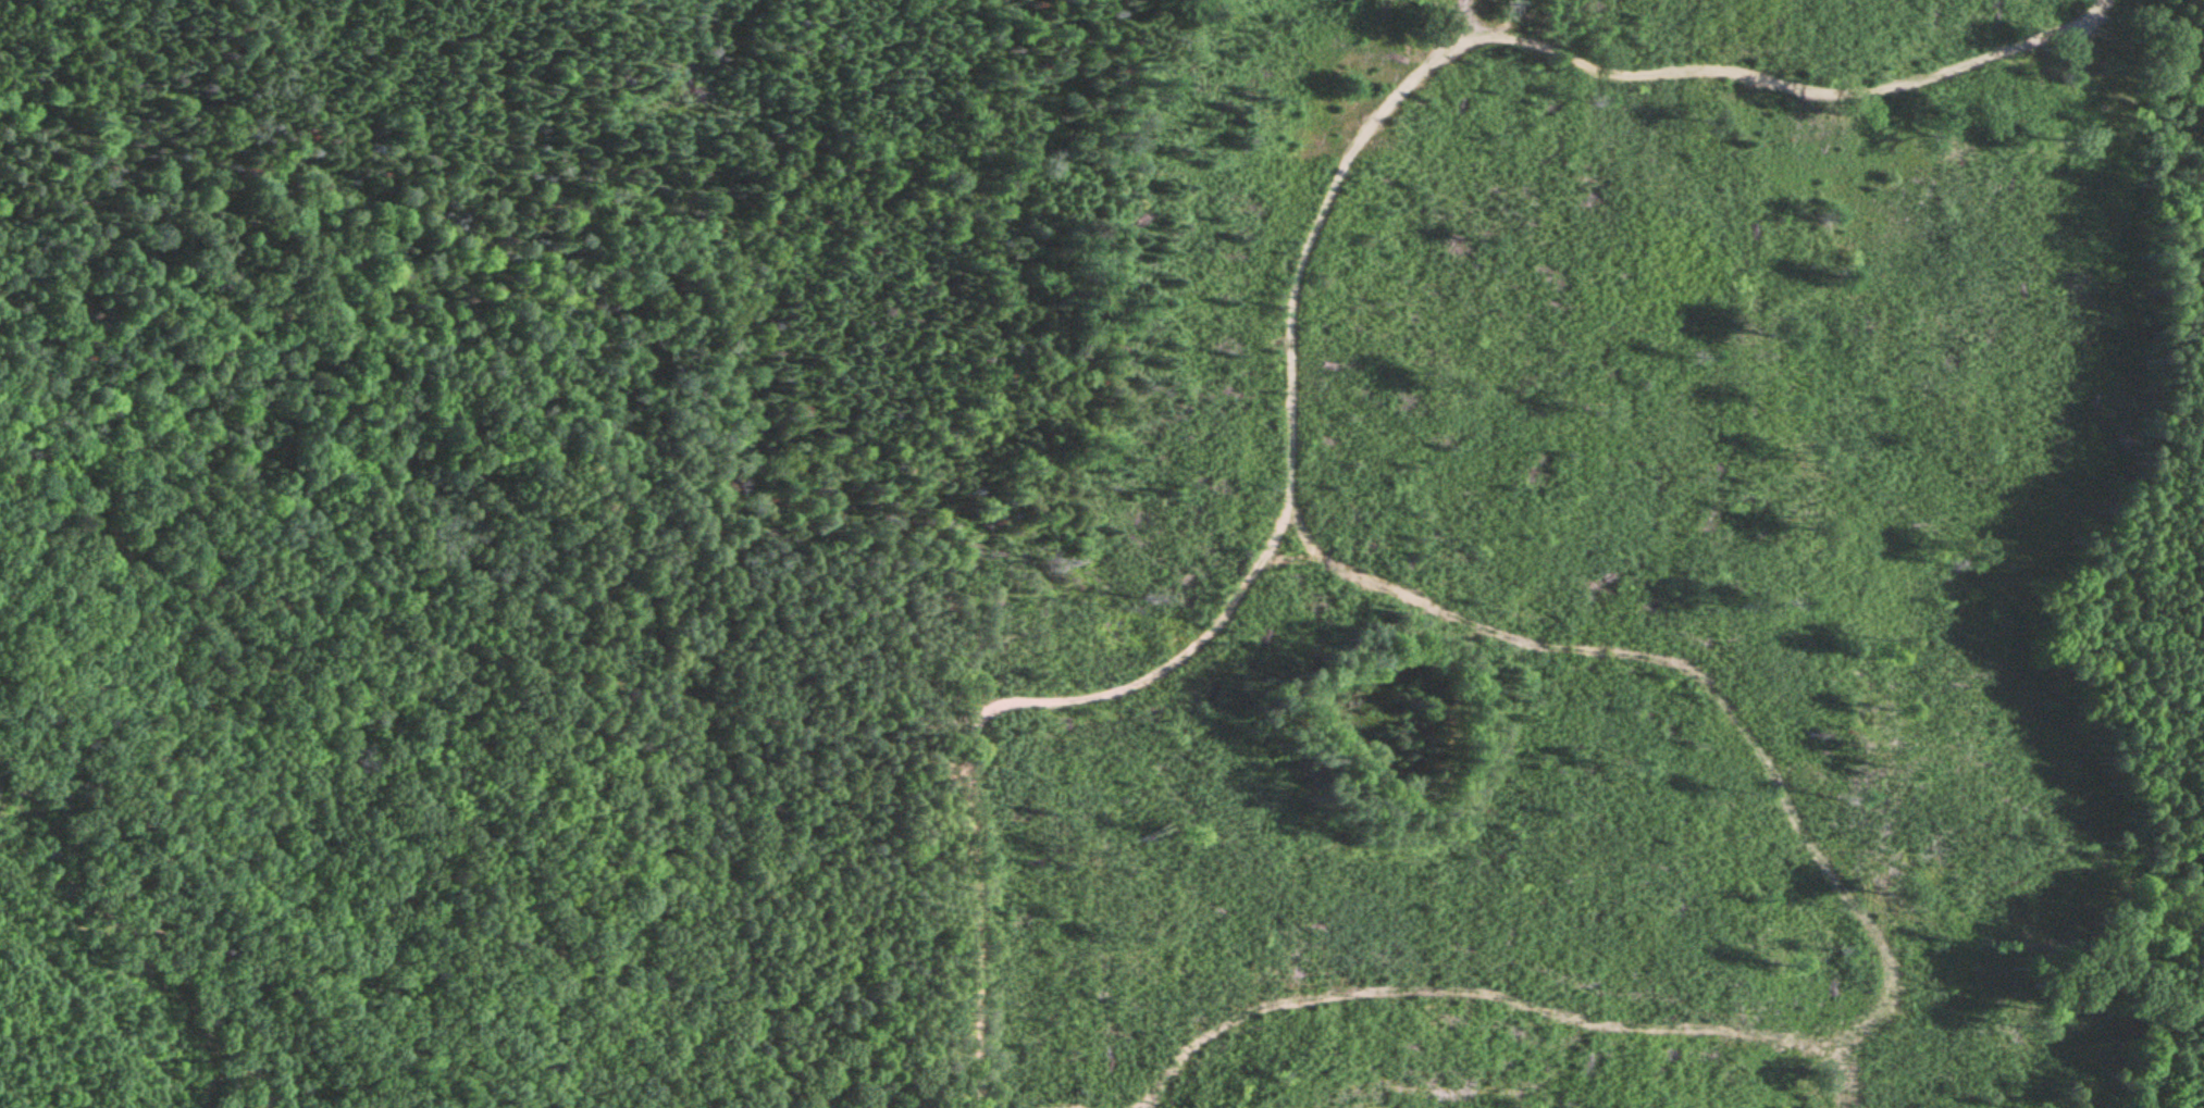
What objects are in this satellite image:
road: (1362, 147)
road: (634, 685)

